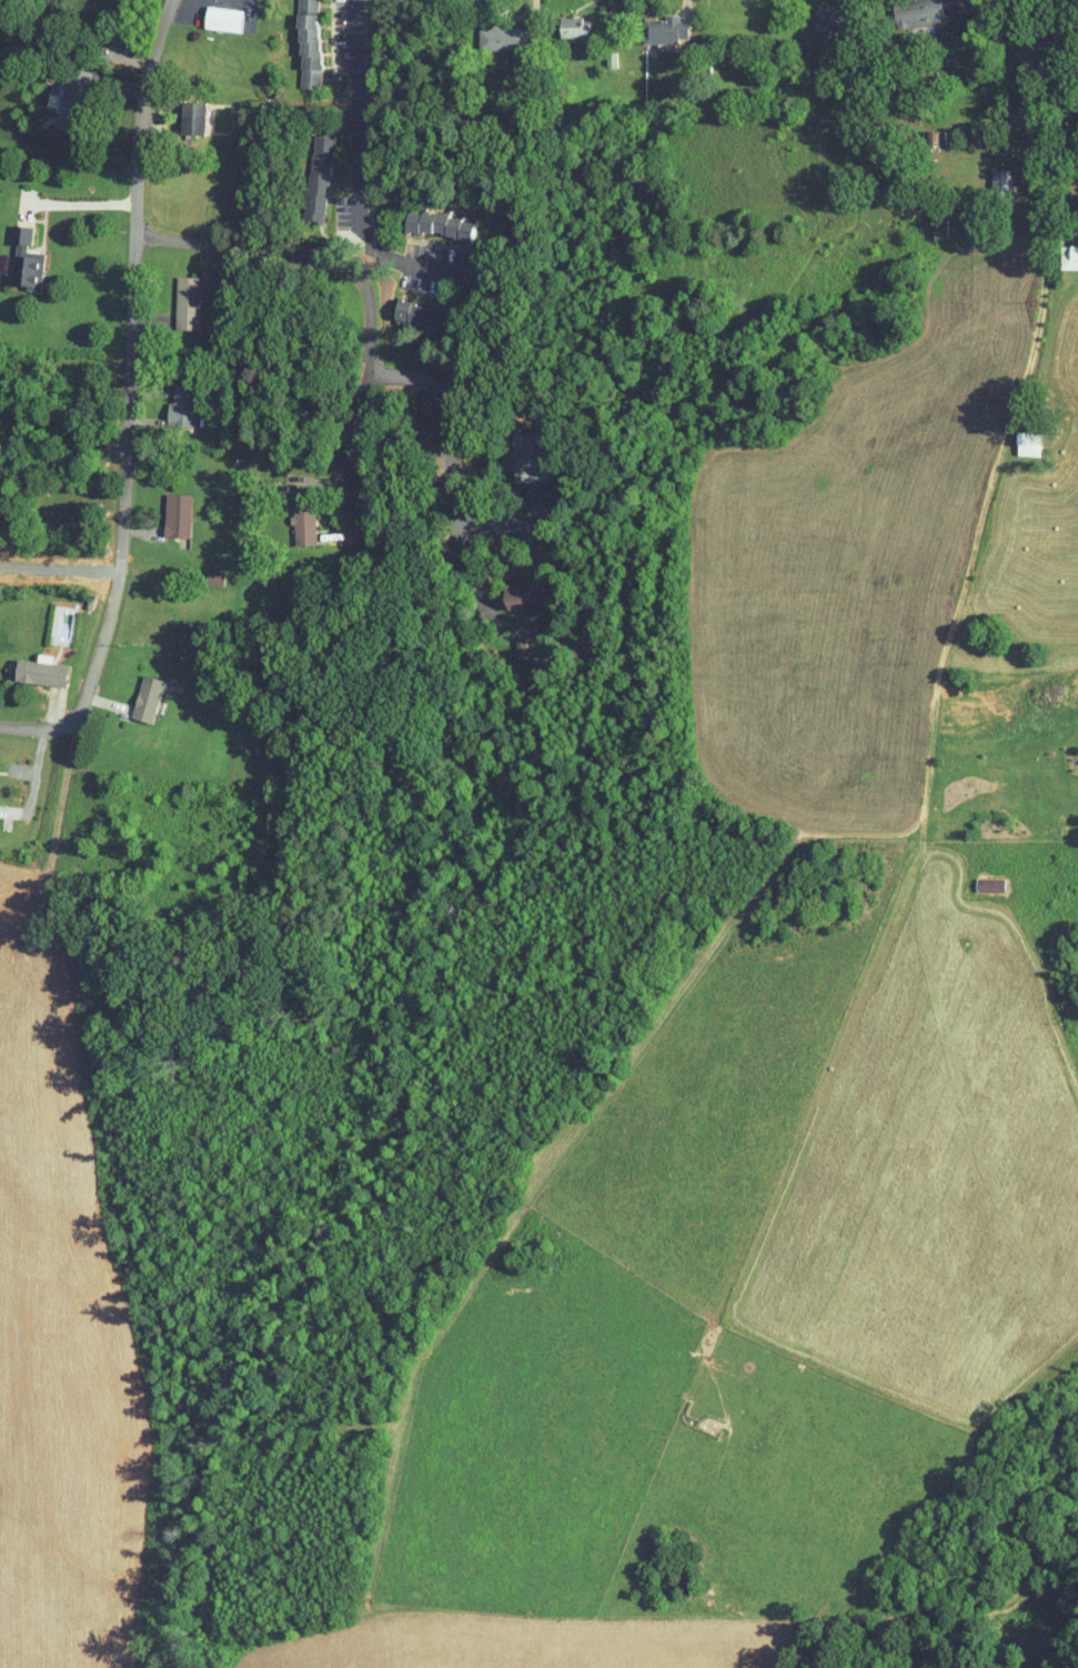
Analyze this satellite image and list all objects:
building: (905, 9)
building: (209, 11)
building: (808, 11)
building: (561, 21)
building: (652, 22)
building: (486, 31)
building: (293, 40)
building: (54, 88)
building: (178, 110)
road: (354, 164)
building: (304, 171)
building: (987, 172)
building: (424, 218)
building: (926, 221)
road: (1040, 234)
building: (1057, 250)
building: (12, 253)
building: (172, 297)
road: (361, 299)
building: (403, 309)
road: (124, 366)
building: (167, 399)
road: (451, 413)
building: (1014, 436)
road: (60, 448)
building: (513, 449)
road: (74, 461)
building: (162, 509)
building: (289, 519)
building: (503, 589)
building: (26, 664)
building: (132, 692)
road: (32, 731)
building: (976, 878)

